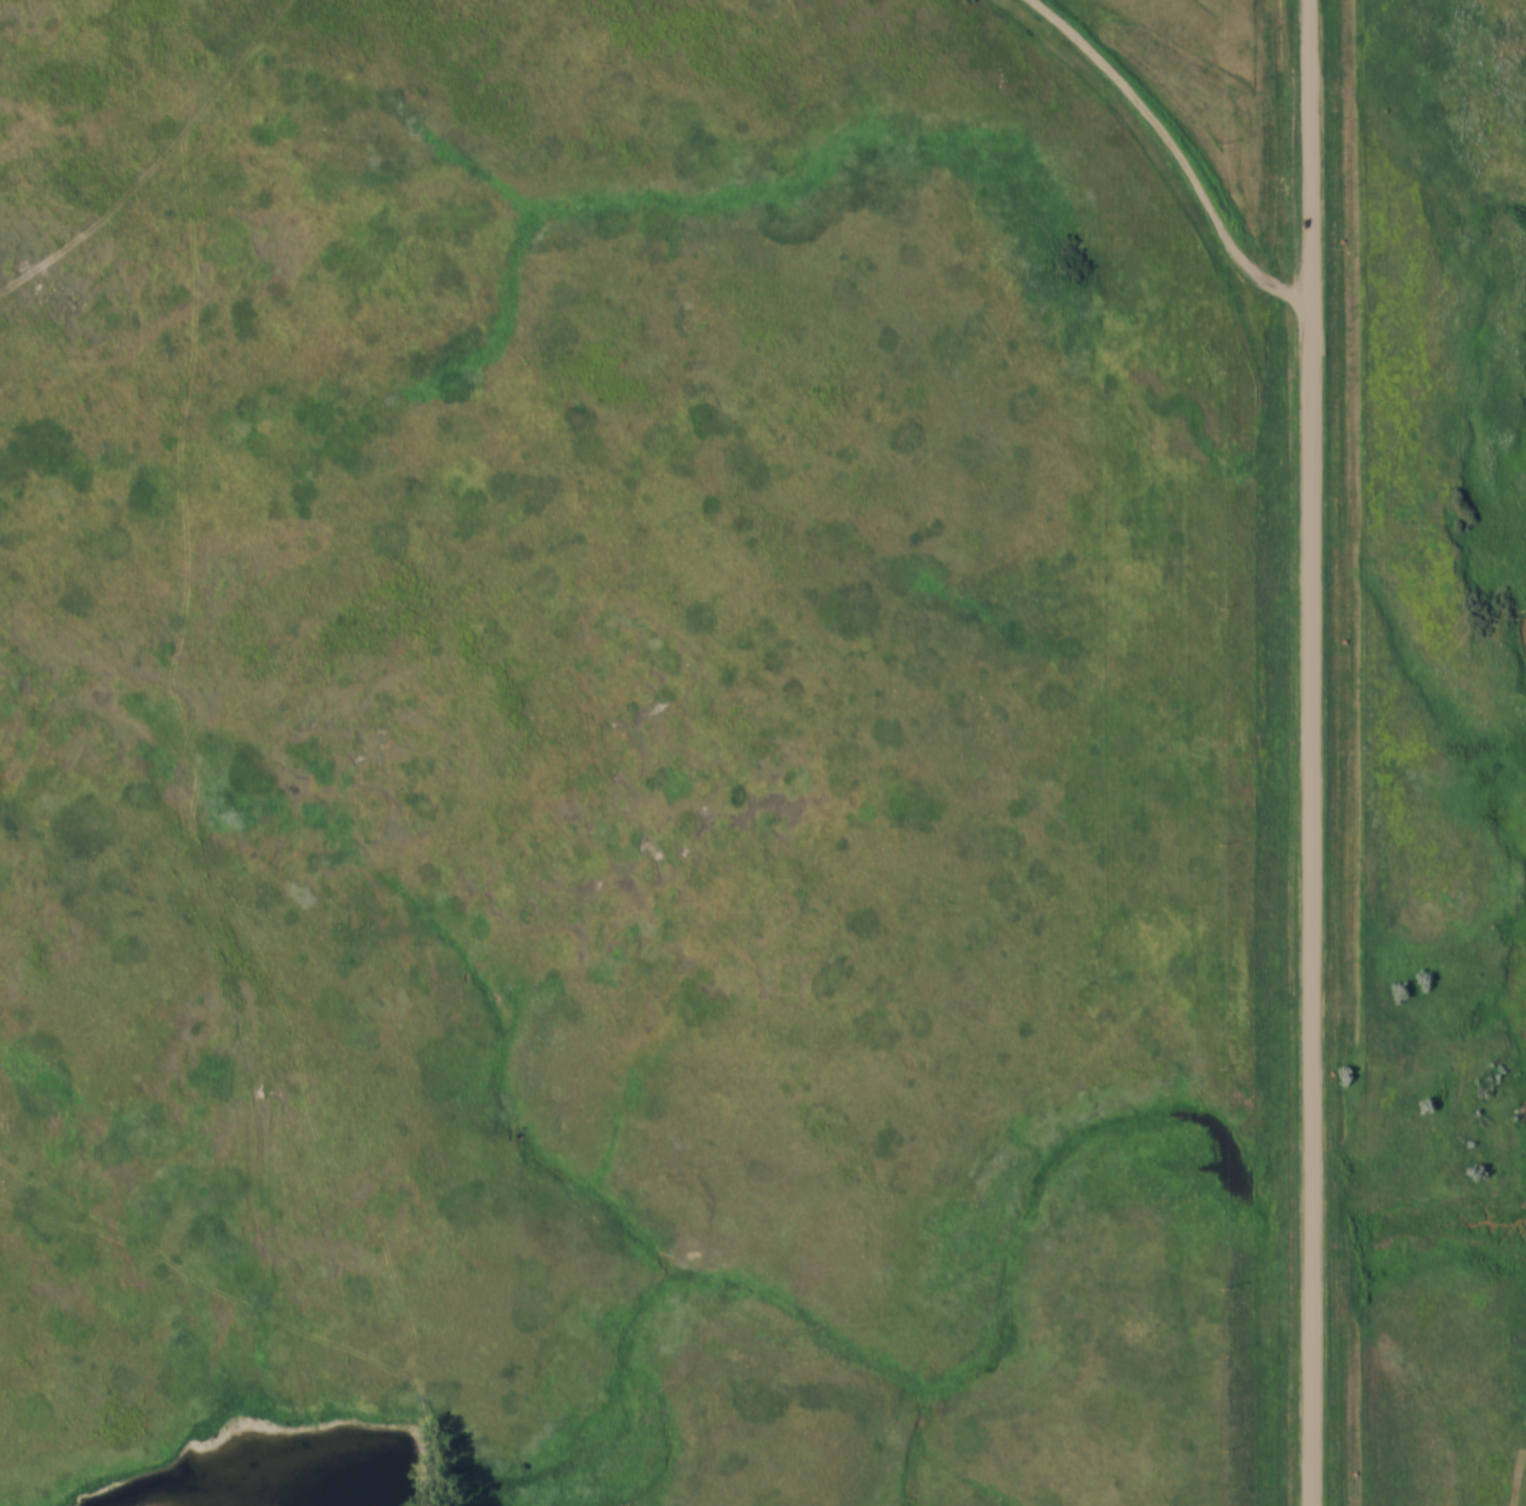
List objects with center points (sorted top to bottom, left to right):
road: (1172, 148)
road: (155, 162)
road: (1313, 752)

